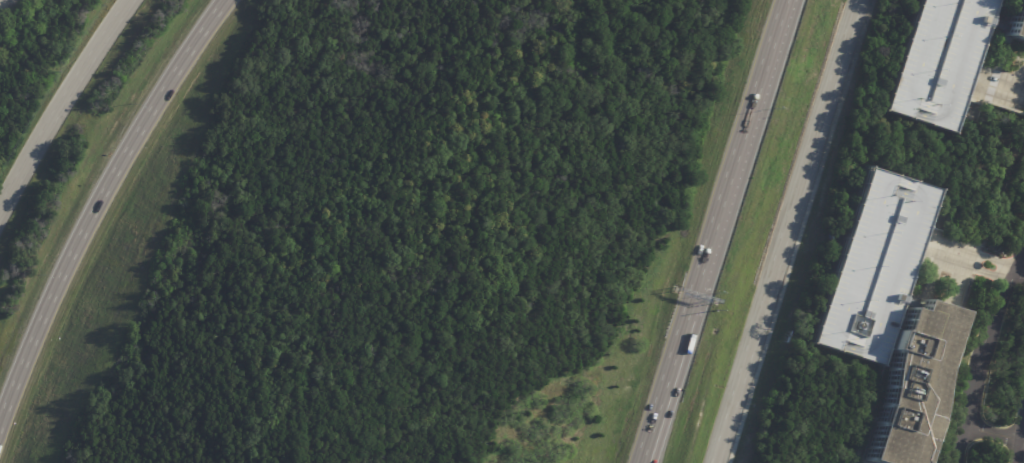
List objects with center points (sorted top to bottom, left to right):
parking lot: (7, 7)
building: (946, 58)
road: (1020, 77)
road: (998, 80)
road: (61, 103)
road: (735, 158)
road: (95, 205)
road: (786, 231)
road: (800, 231)
road: (974, 259)
building: (873, 264)
road: (1023, 265)
road: (982, 359)
road: (667, 378)
building: (913, 385)
road: (991, 431)
road: (1020, 436)
road: (1016, 437)
road: (645, 451)
road: (647, 451)
park: (1019, 451)

